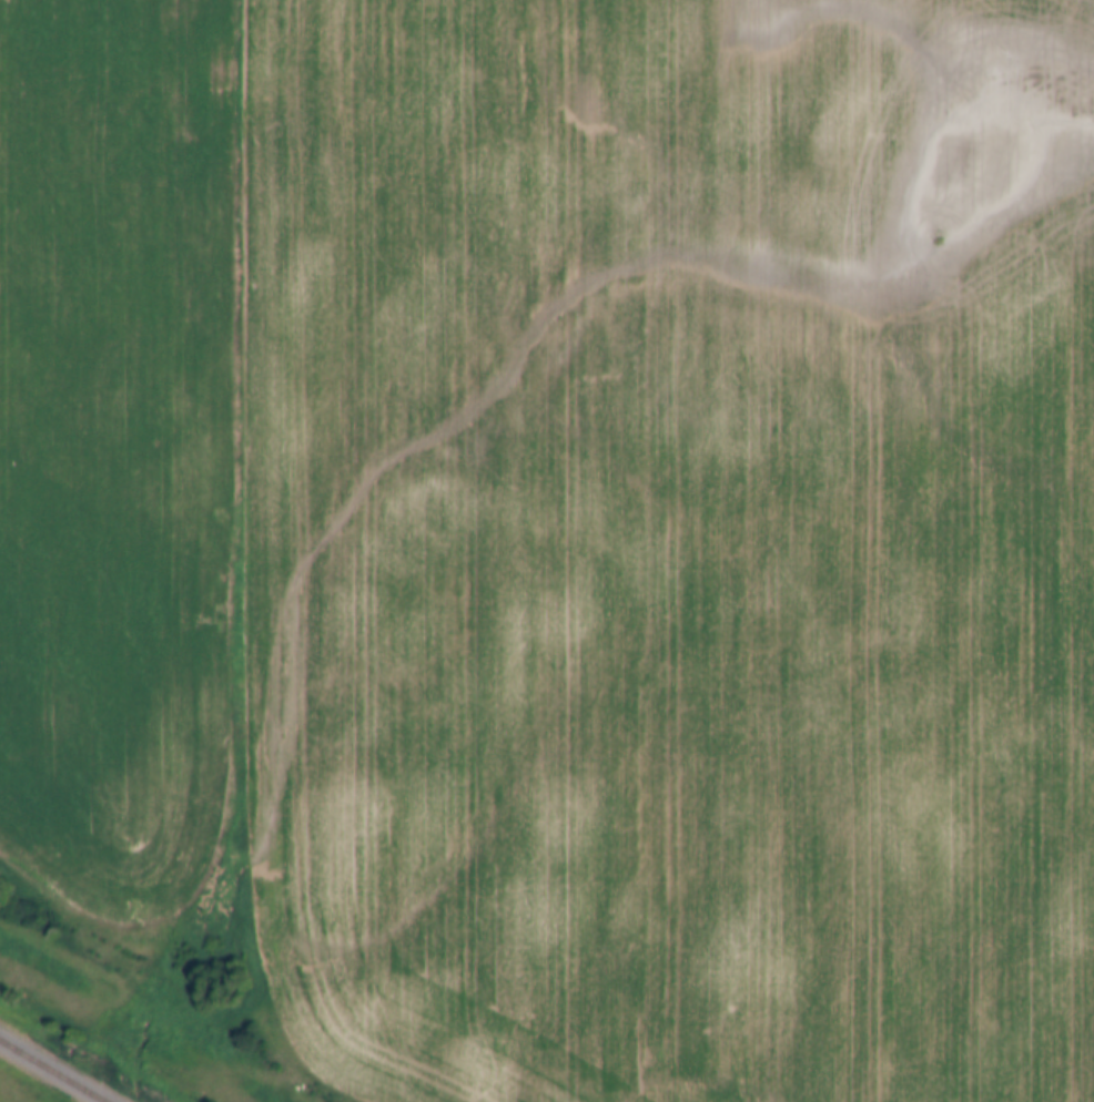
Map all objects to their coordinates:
railway: (50, 1072)

